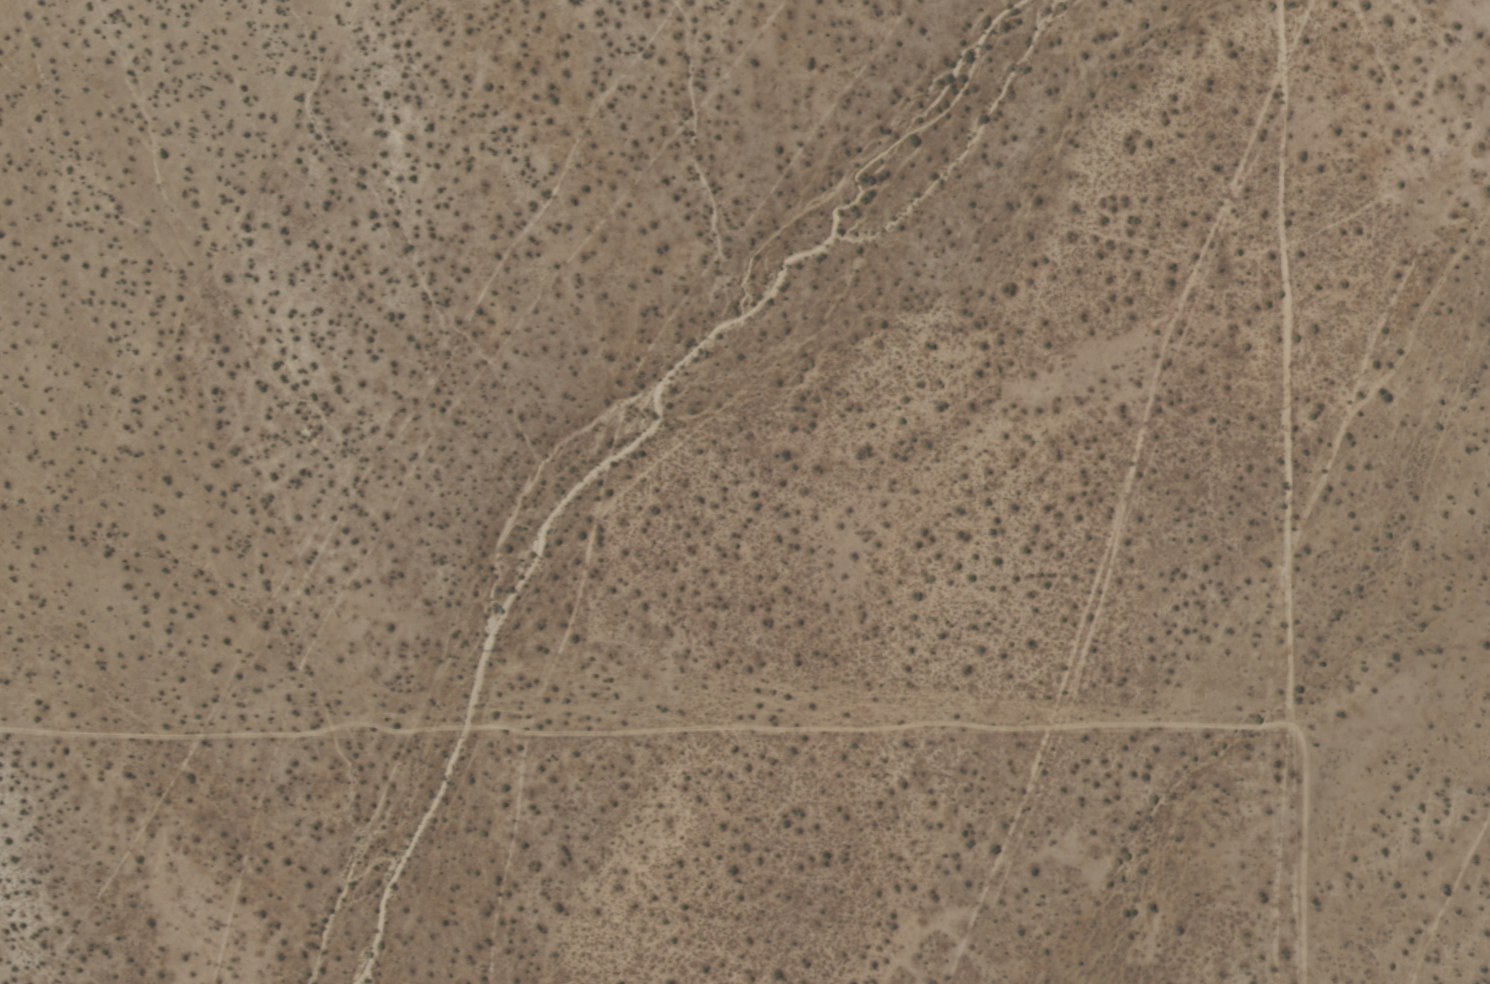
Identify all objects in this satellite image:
park: (1332, 28)
crop: (745, 492)

